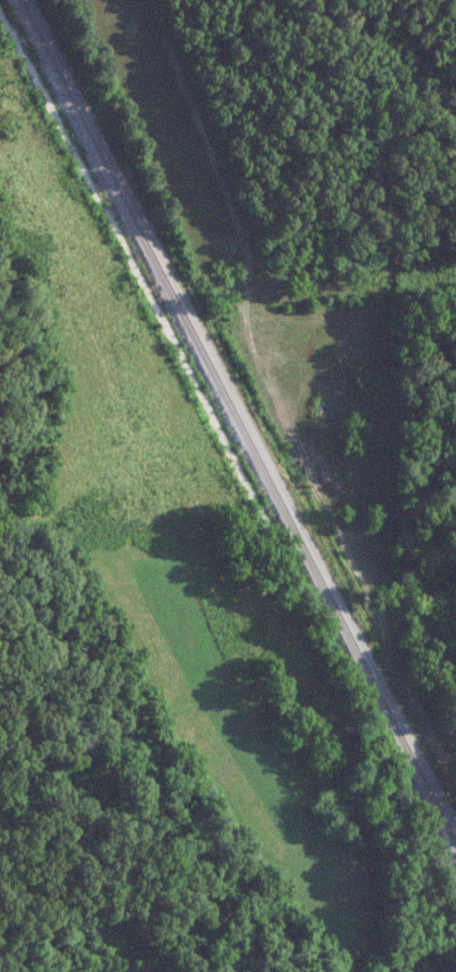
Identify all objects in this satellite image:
railway: (239, 420)
road: (364, 440)

